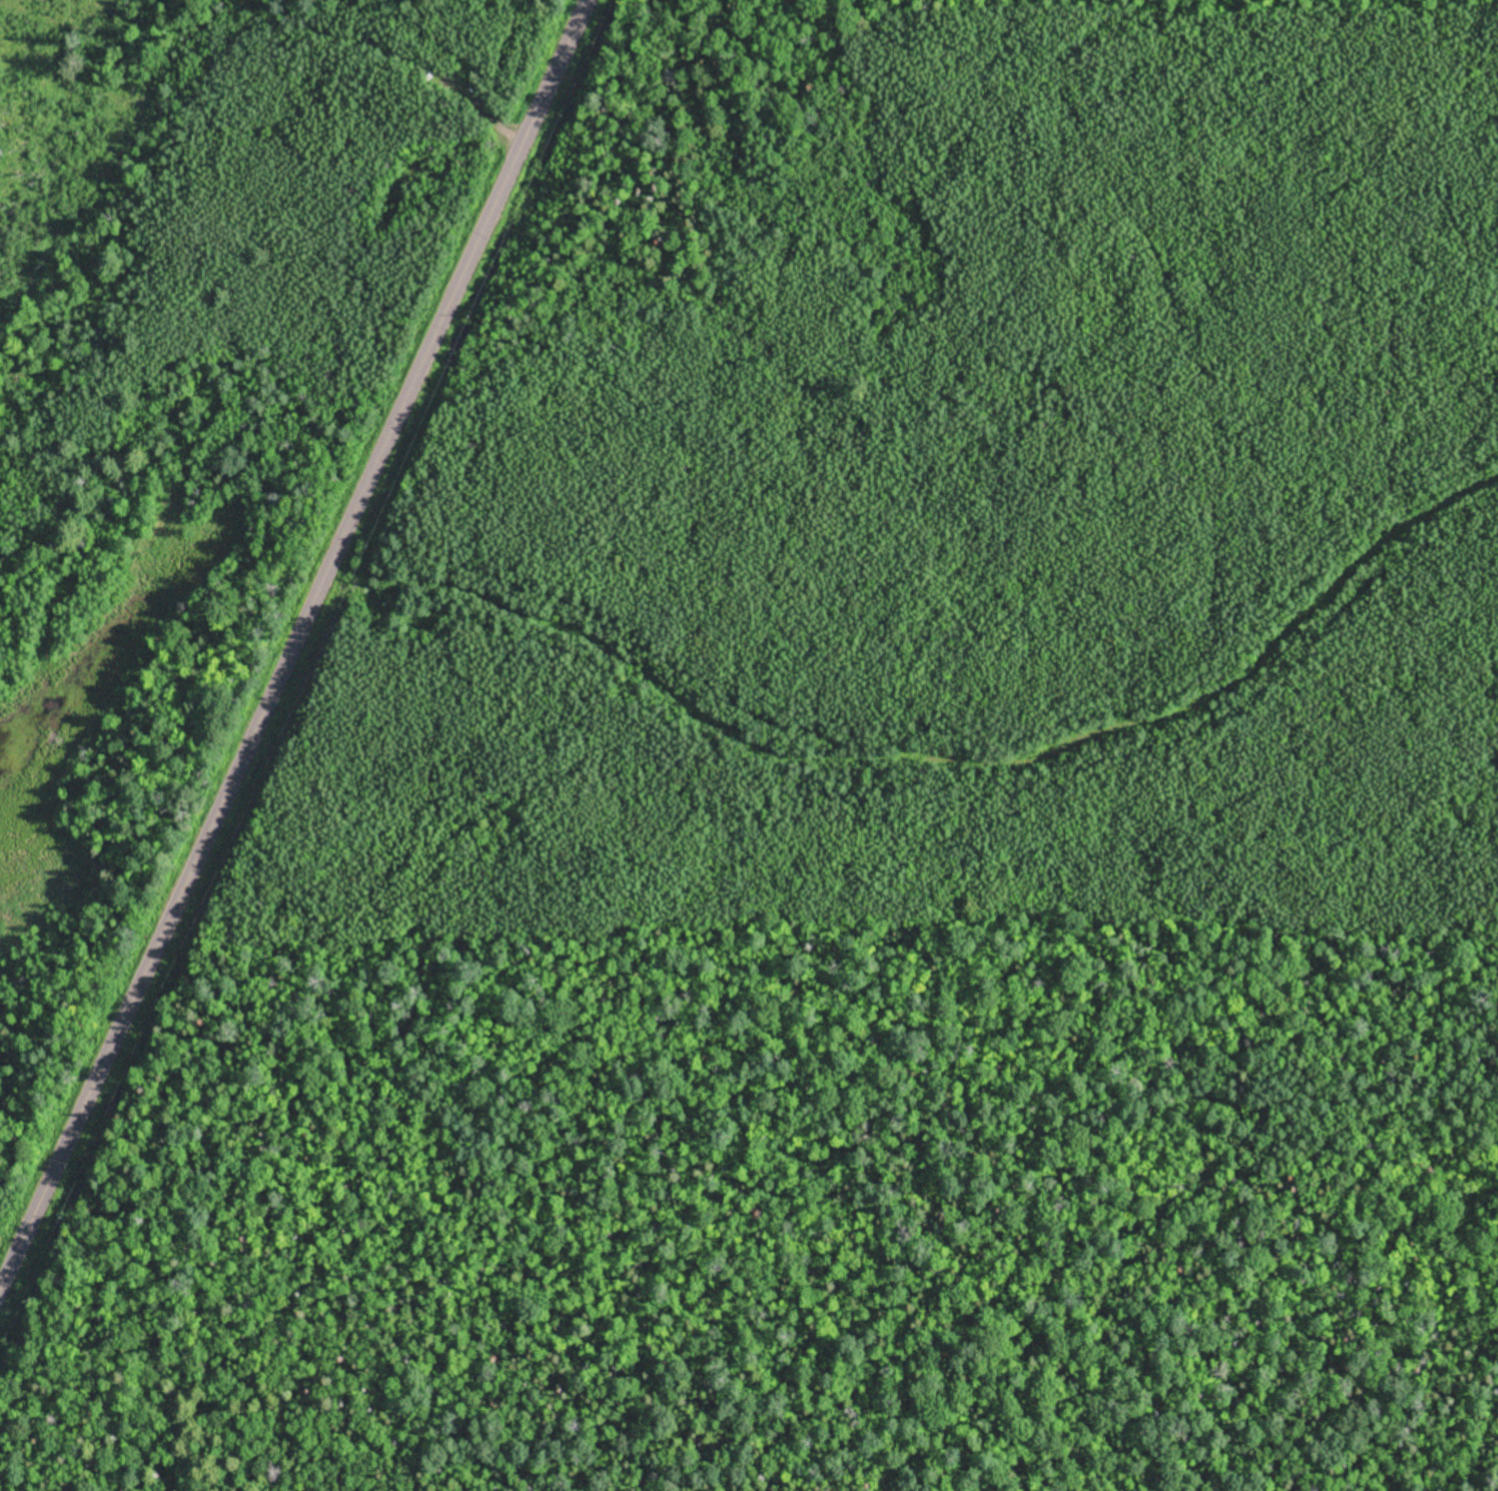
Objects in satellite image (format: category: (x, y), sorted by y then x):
road: (294, 646)

